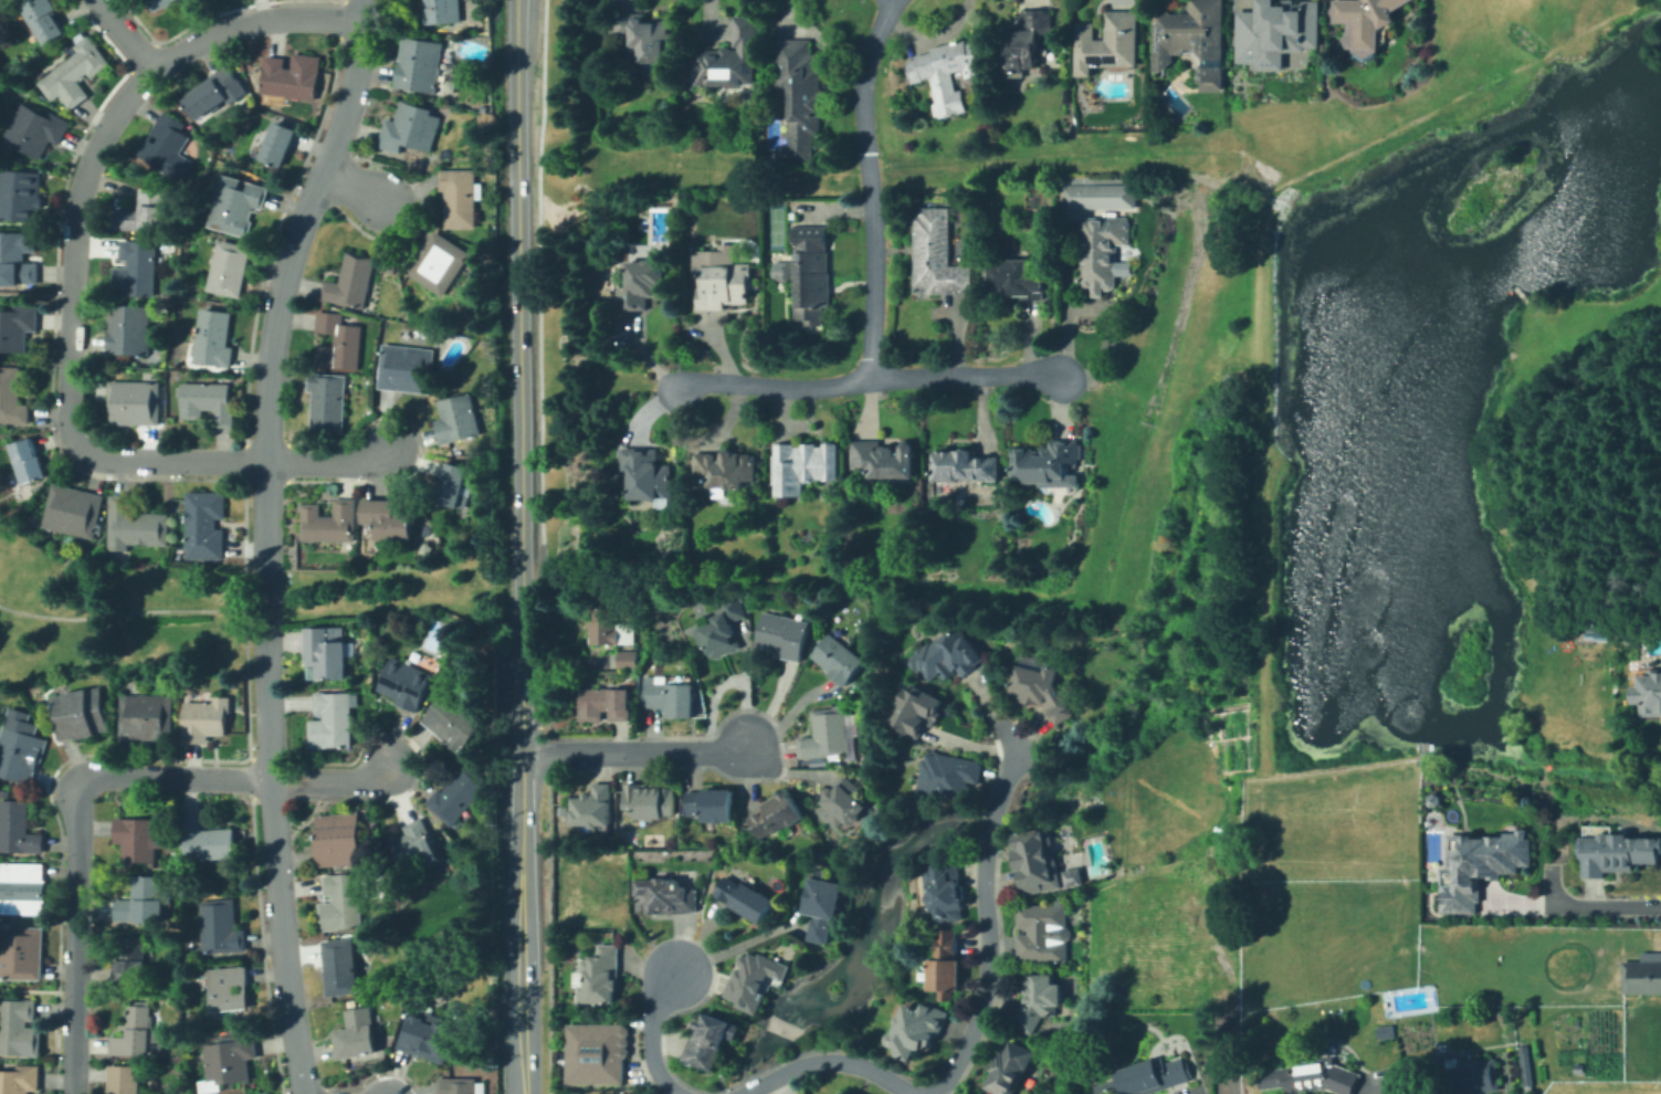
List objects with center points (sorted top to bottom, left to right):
building: (187, 1)
building: (158, 2)
building: (435, 11)
building: (43, 20)
building: (1365, 21)
building: (1192, 30)
building: (1275, 32)
road: (124, 33)
building: (643, 34)
building: (1027, 40)
building: (1110, 42)
building: (728, 57)
building: (417, 64)
building: (73, 69)
building: (288, 73)
building: (946, 74)
building: (212, 88)
building: (801, 94)
building: (412, 126)
building: (33, 127)
building: (277, 141)
building: (165, 143)
road: (869, 185)
road: (354, 186)
building: (18, 192)
building: (456, 194)
building: (1073, 194)
building: (233, 210)
building: (140, 211)
park: (775, 225)
building: (1101, 250)
building: (937, 253)
building: (15, 255)
building: (437, 262)
building: (132, 266)
building: (229, 269)
building: (810, 272)
building: (1015, 278)
building: (642, 280)
building: (348, 283)
building: (722, 283)
road: (70, 288)
road: (34, 291)
building: (15, 326)
building: (125, 330)
building: (211, 337)
building: (339, 339)
building: (404, 369)
road: (519, 376)
road: (869, 377)
road: (598, 393)
building: (11, 395)
building: (207, 398)
road: (1101, 398)
building: (133, 400)
building: (324, 403)
building: (455, 418)
road: (1148, 423)
building: (885, 457)
building: (25, 459)
building: (1048, 462)
building: (963, 463)
building: (724, 465)
building: (803, 465)
building: (648, 476)
building: (454, 485)
building: (70, 509)
building: (390, 516)
building: (326, 518)
building: (132, 522)
building: (202, 523)
road: (264, 539)
park: (198, 607)
road: (132, 609)
building: (617, 628)
building: (724, 628)
building: (784, 635)
building: (325, 648)
building: (945, 656)
building: (839, 658)
building: (629, 660)
building: (402, 682)
building: (1043, 686)
building: (1650, 693)
building: (673, 695)
building: (606, 703)
building: (914, 709)
building: (77, 713)
building: (144, 716)
building: (204, 718)
building: (329, 718)
building: (453, 718)
building: (828, 735)
building: (18, 745)
road: (1021, 748)
road: (634, 751)
road: (1030, 755)
building: (948, 775)
road: (234, 777)
building: (4, 792)
building: (455, 793)
building: (651, 800)
building: (1433, 800)
building: (844, 803)
building: (712, 804)
building: (595, 808)
building: (563, 811)
building: (778, 813)
road: (992, 817)
building: (17, 828)
building: (201, 837)
building: (336, 838)
building: (134, 839)
building: (417, 851)
building: (1618, 852)
building: (1036, 860)
building: (1480, 867)
building: (1072, 877)
building: (21, 887)
building: (947, 891)
building: (666, 896)
building: (340, 898)
building: (746, 898)
building: (140, 901)
building: (823, 906)
road: (1590, 907)
road: (523, 923)
building: (215, 925)
building: (1041, 933)
crop: (1432, 937)
road: (73, 938)
road: (735, 945)
building: (21, 951)
building: (128, 960)
building: (945, 960)
building: (338, 965)
building: (1643, 974)
road: (989, 977)
building: (599, 978)
building: (754, 979)
building: (225, 987)
road: (35, 989)
building: (1043, 1000)
building: (18, 1028)
building: (919, 1028)
building: (354, 1032)
building: (1385, 1032)
building: (133, 1033)
road: (648, 1033)
building: (423, 1035)
building: (711, 1043)
building: (1659, 1048)
building: (598, 1053)
building: (227, 1059)
road: (828, 1061)
building: (1524, 1065)
building: (1578, 1065)
building: (1013, 1070)
building: (1150, 1076)
building: (1457, 1076)
building: (18, 1079)
building: (122, 1079)
building: (1314, 1080)
building: (456, 1084)
road: (1383, 1090)
building: (570, 1093)
building: (603, 1093)
building: (839, 1093)
building: (847, 1093)

